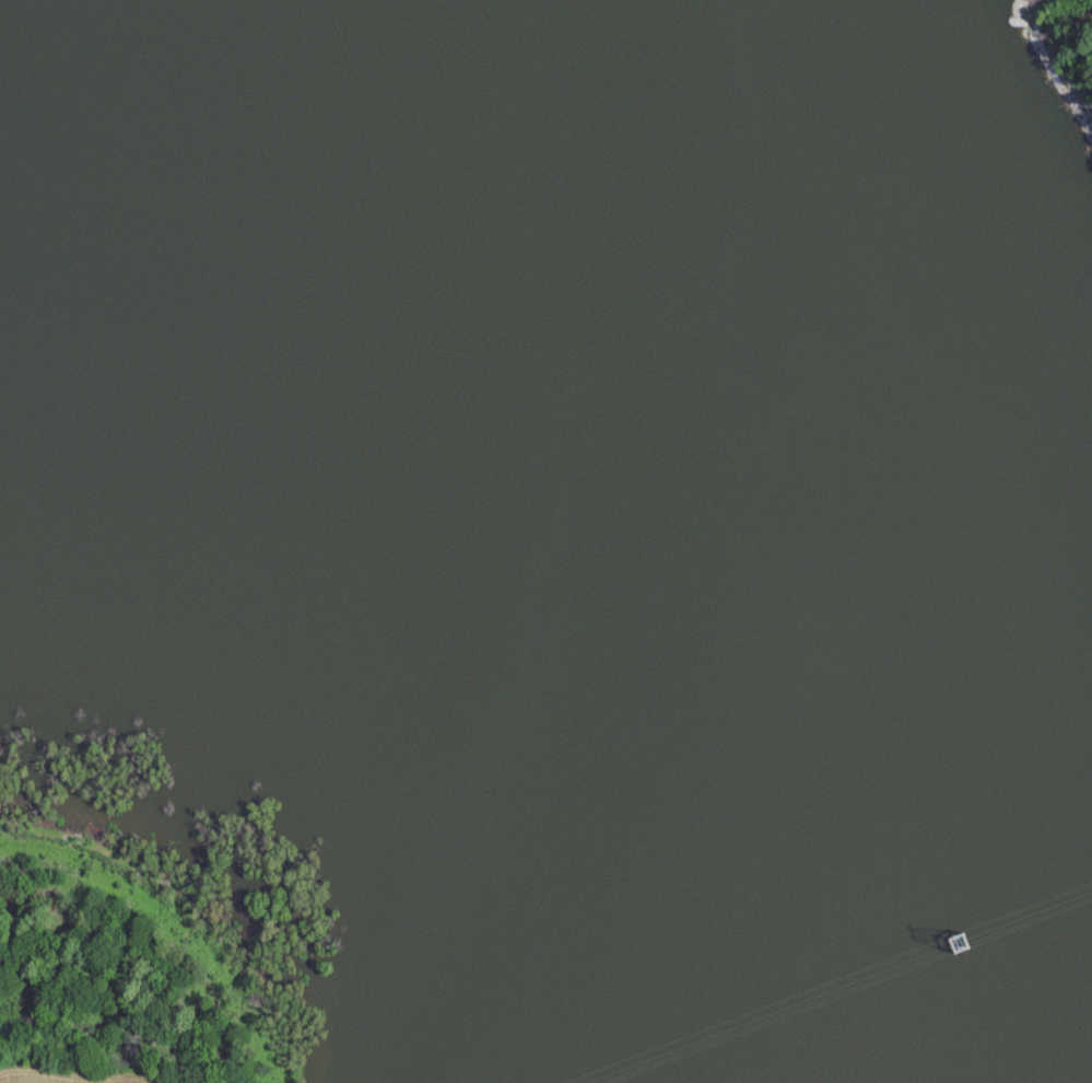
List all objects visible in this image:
power tower: (960, 938)

